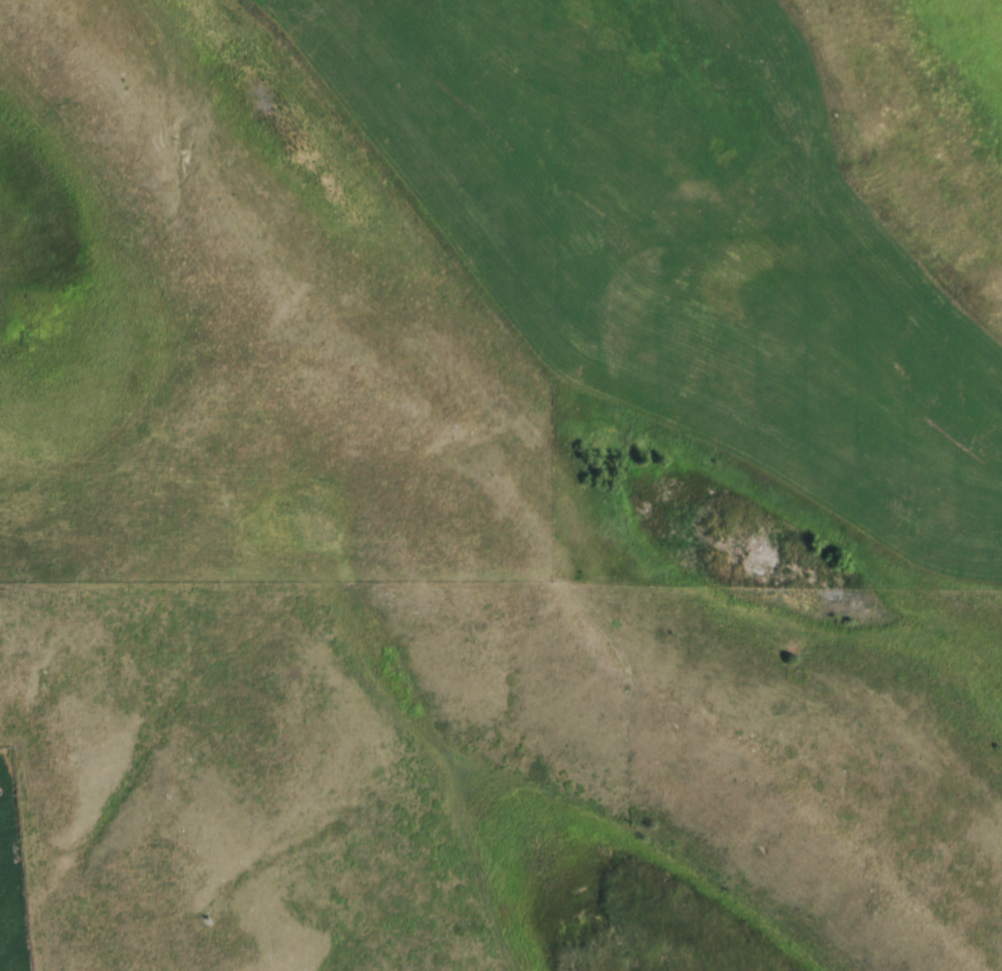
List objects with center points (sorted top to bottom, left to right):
river: (589, 939)

